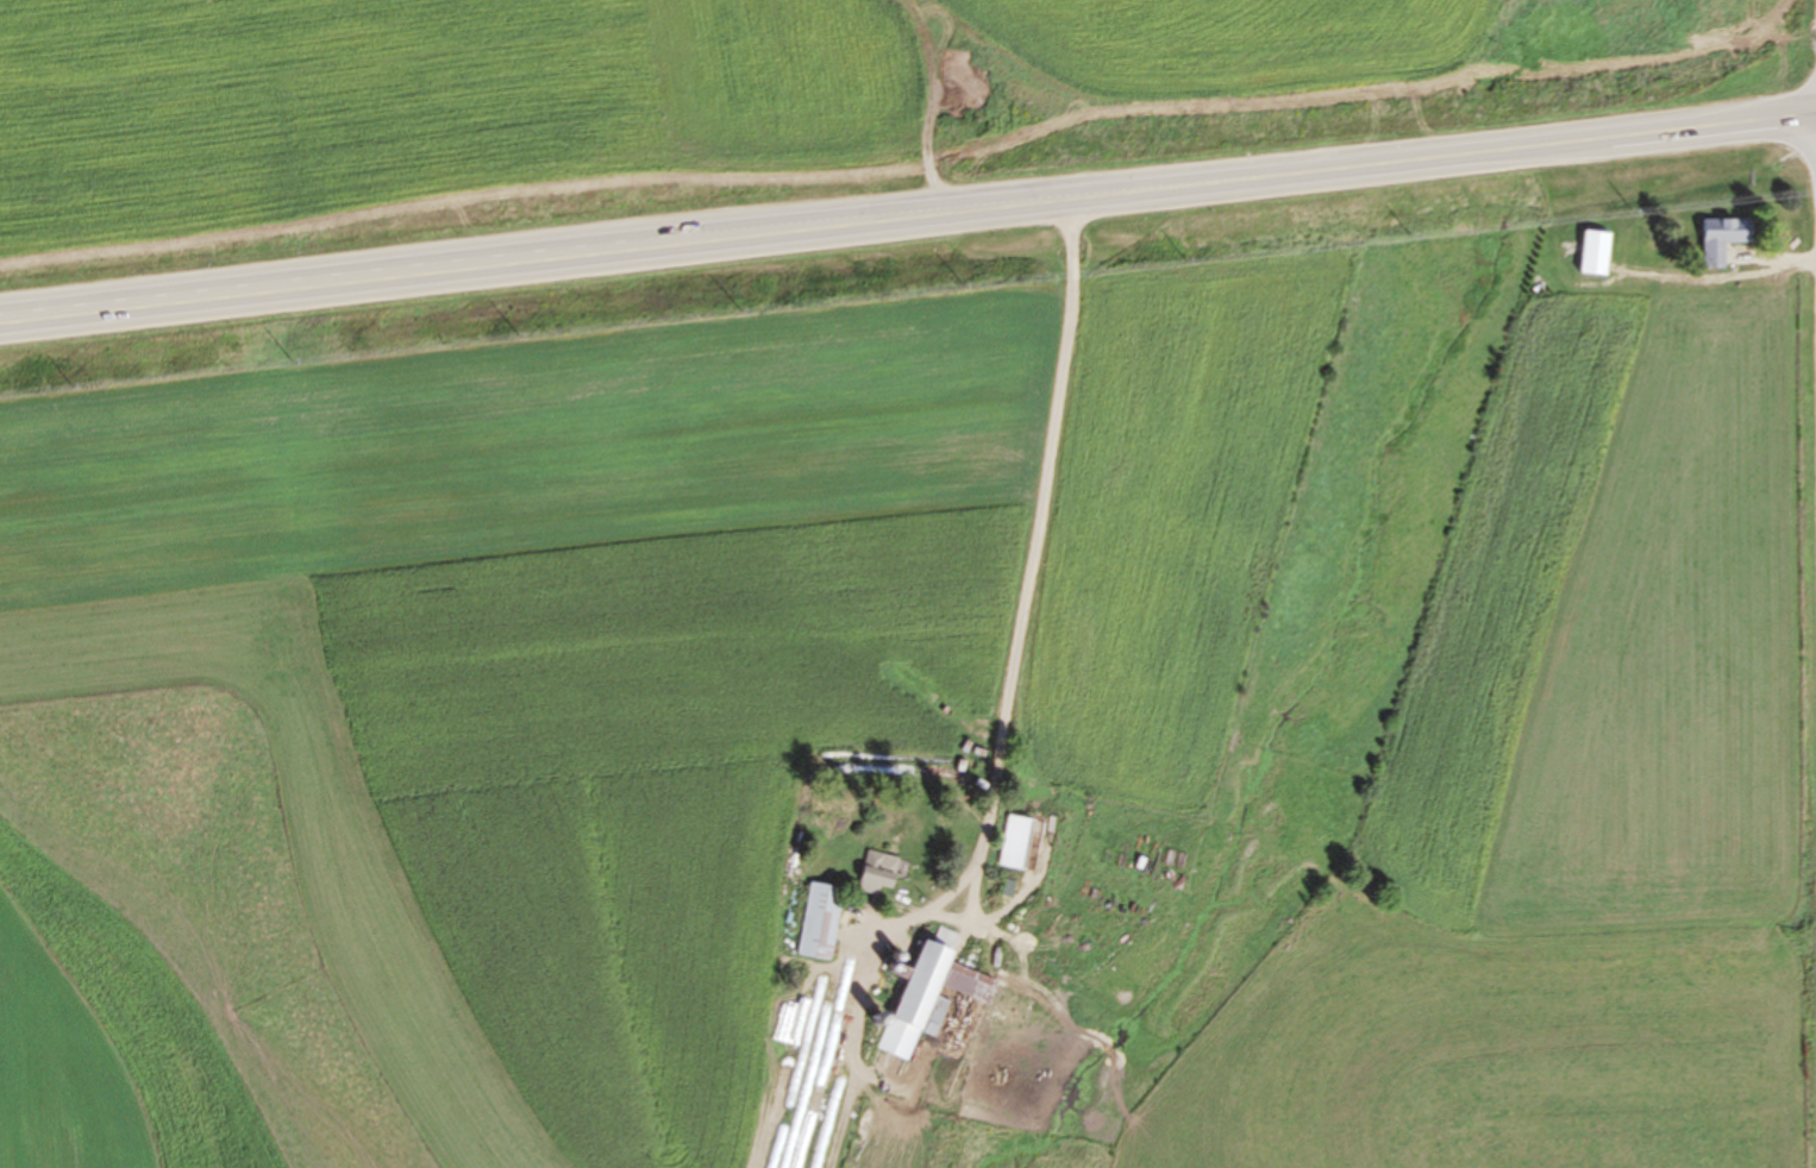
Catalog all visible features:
road: (907, 215)
building: (1712, 238)
building: (1588, 253)
road: (1039, 546)
building: (869, 868)
building: (810, 921)
building: (909, 993)

